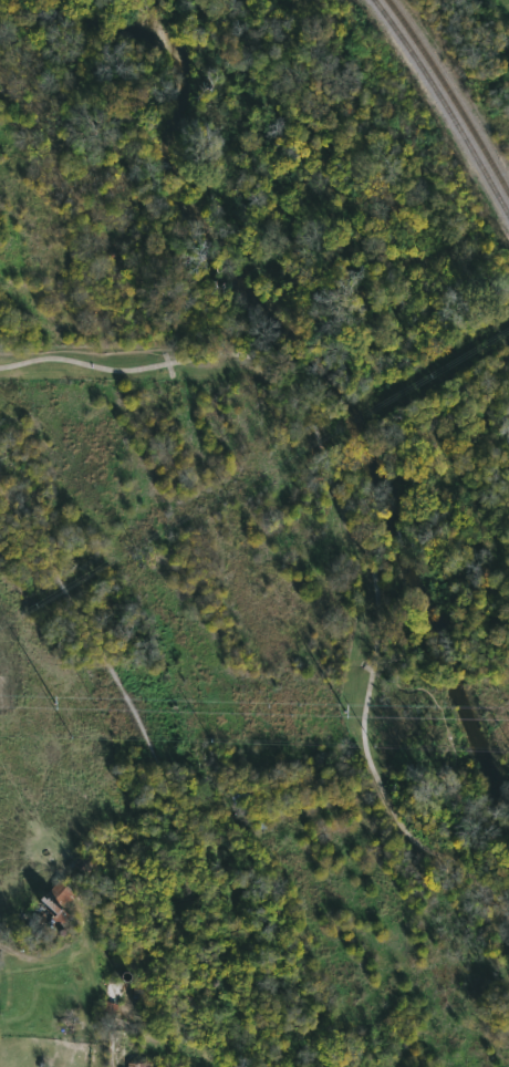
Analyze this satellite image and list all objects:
railway: (340, 77)
railway: (451, 94)
railway: (446, 104)
road: (353, 526)
power tower: (56, 705)
power tower: (345, 713)
building: (241, 795)
building: (55, 907)
building: (148, 1066)

